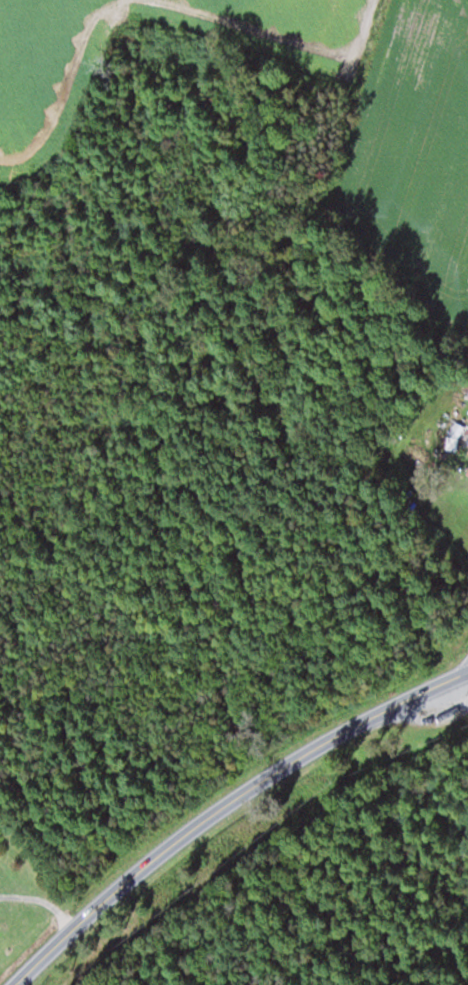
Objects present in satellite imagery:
road: (224, 804)

